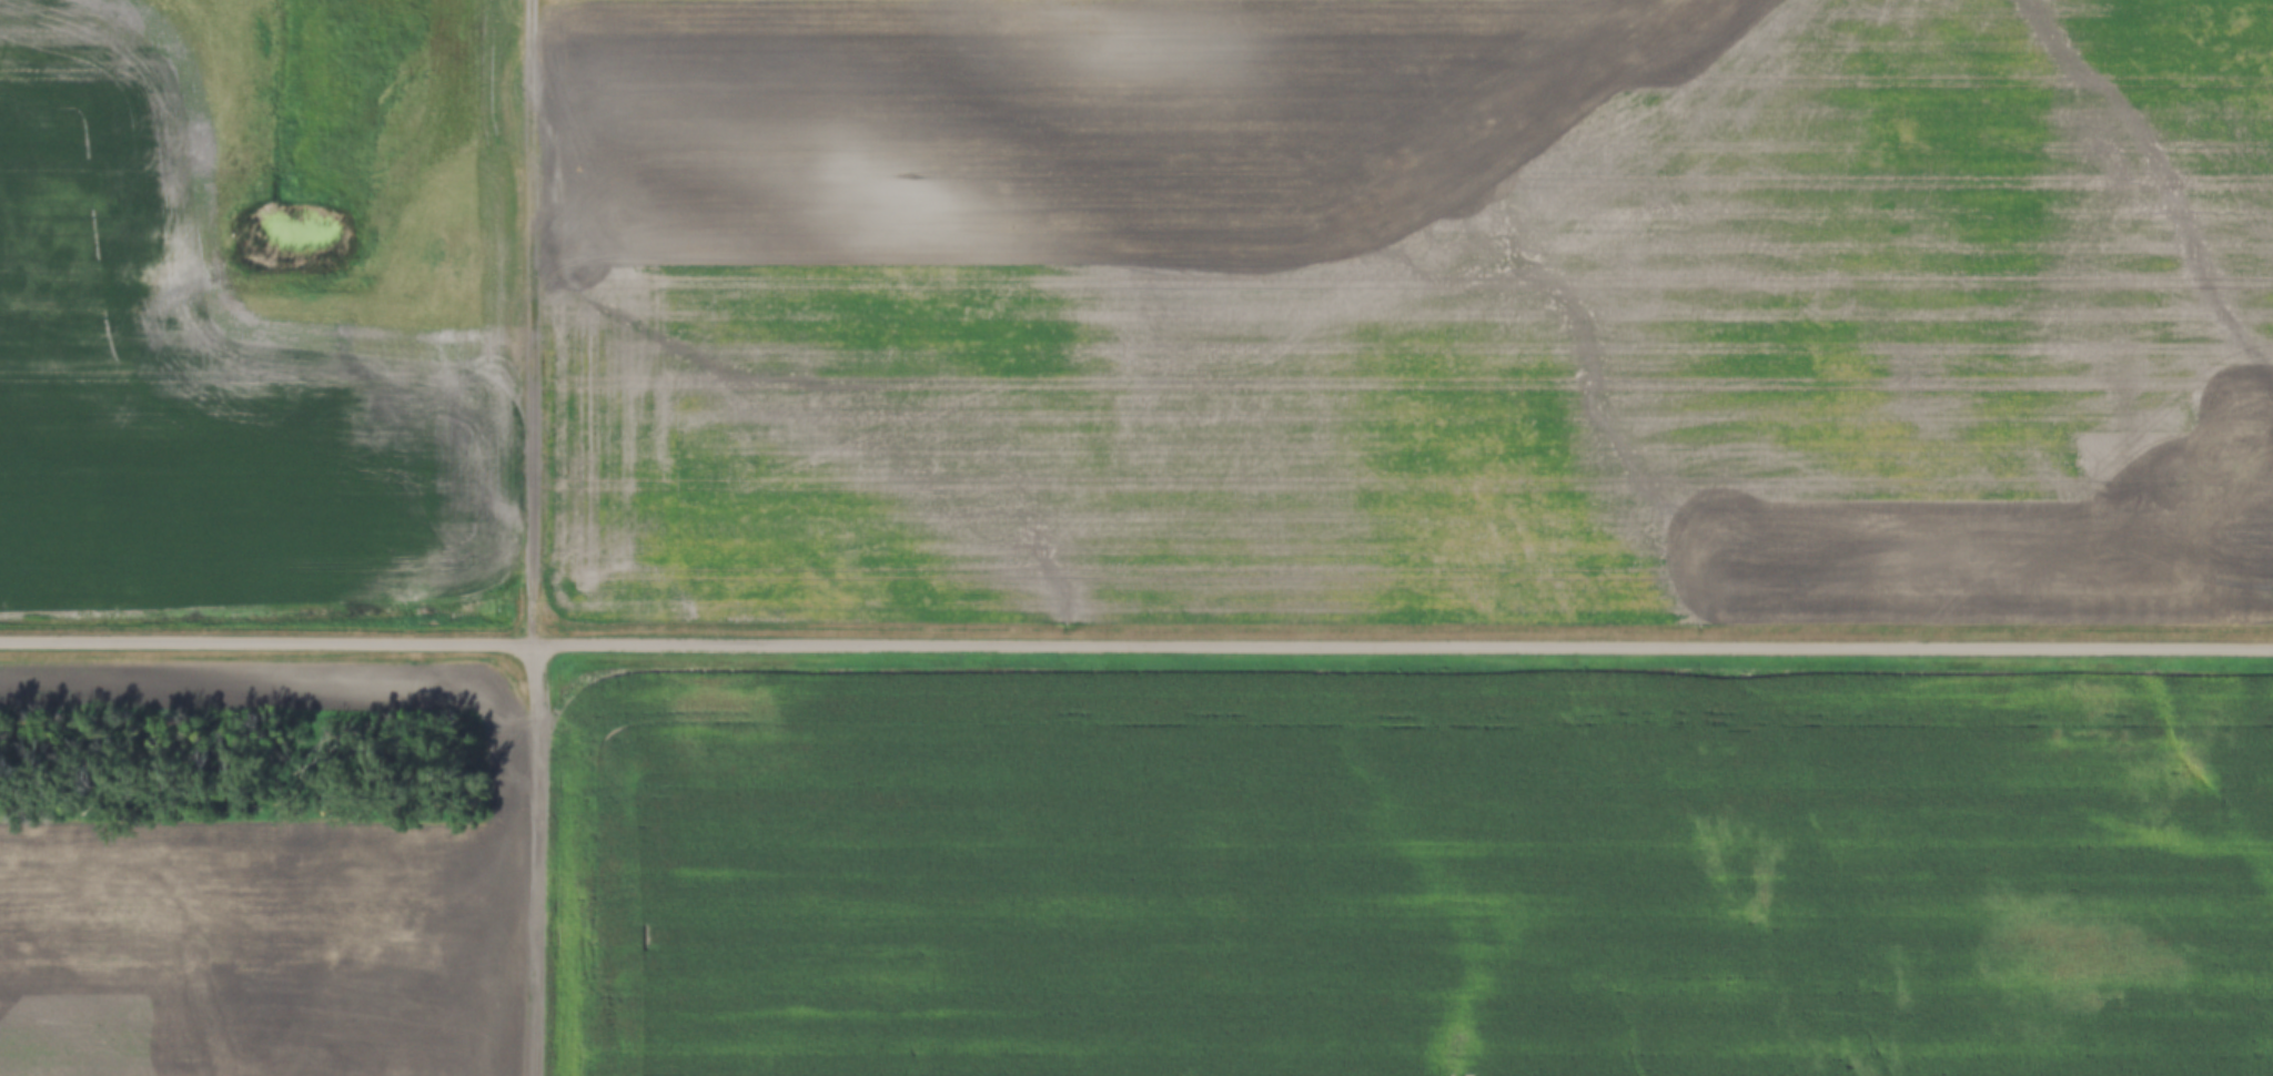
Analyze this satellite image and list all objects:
road: (1135, 640)
road: (527, 857)

